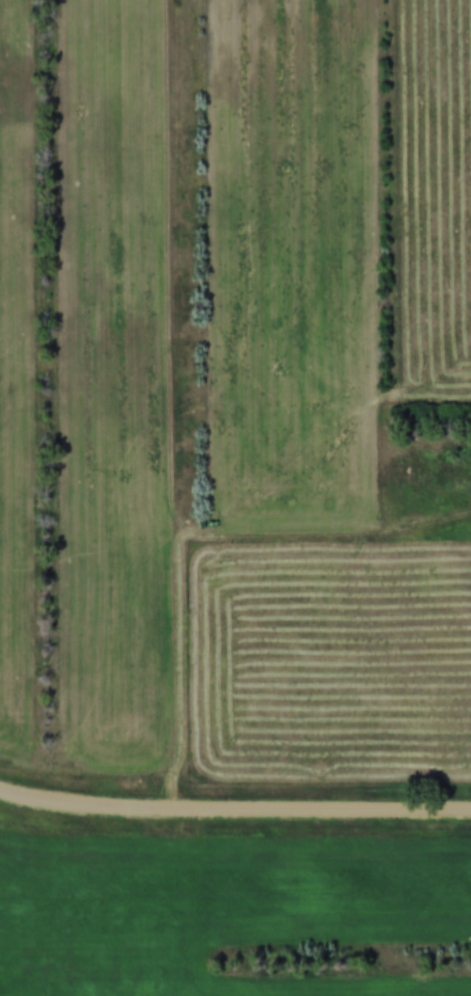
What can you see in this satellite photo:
road: (234, 809)

